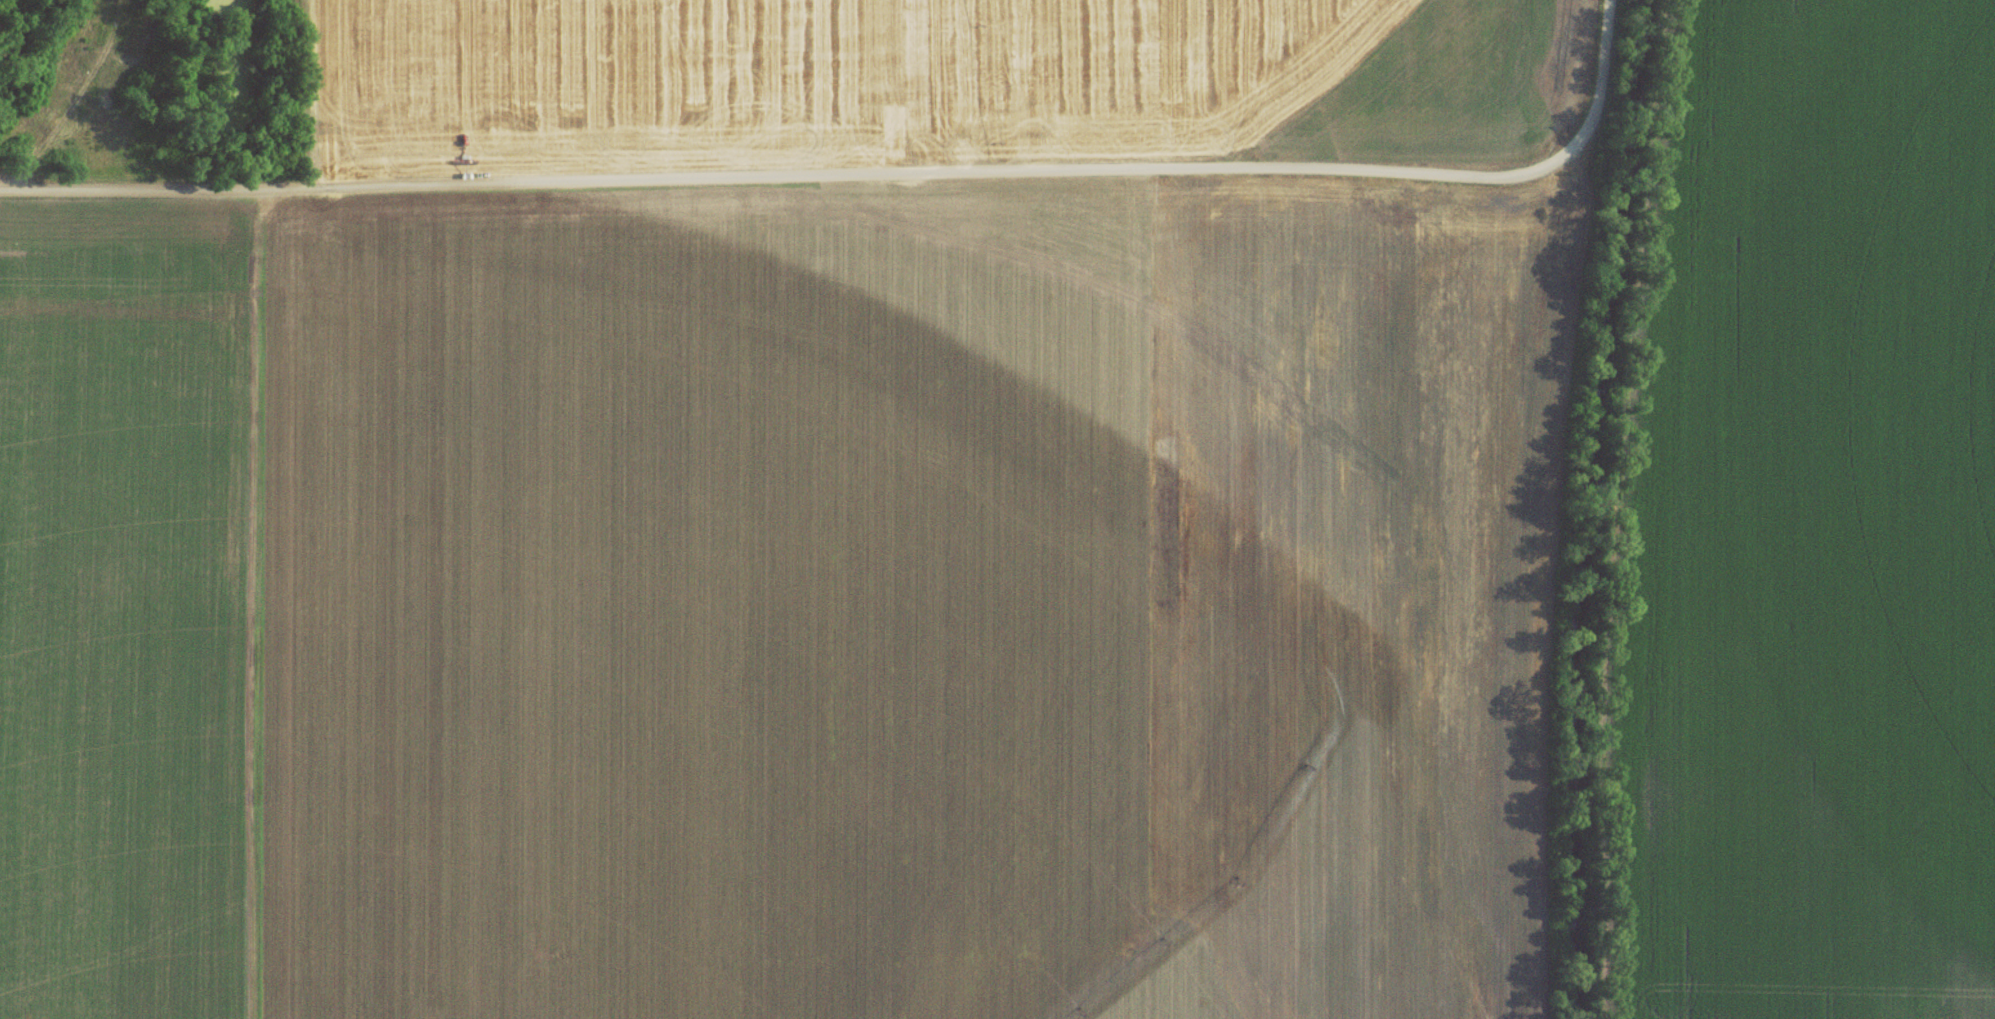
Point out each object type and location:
road: (872, 180)

